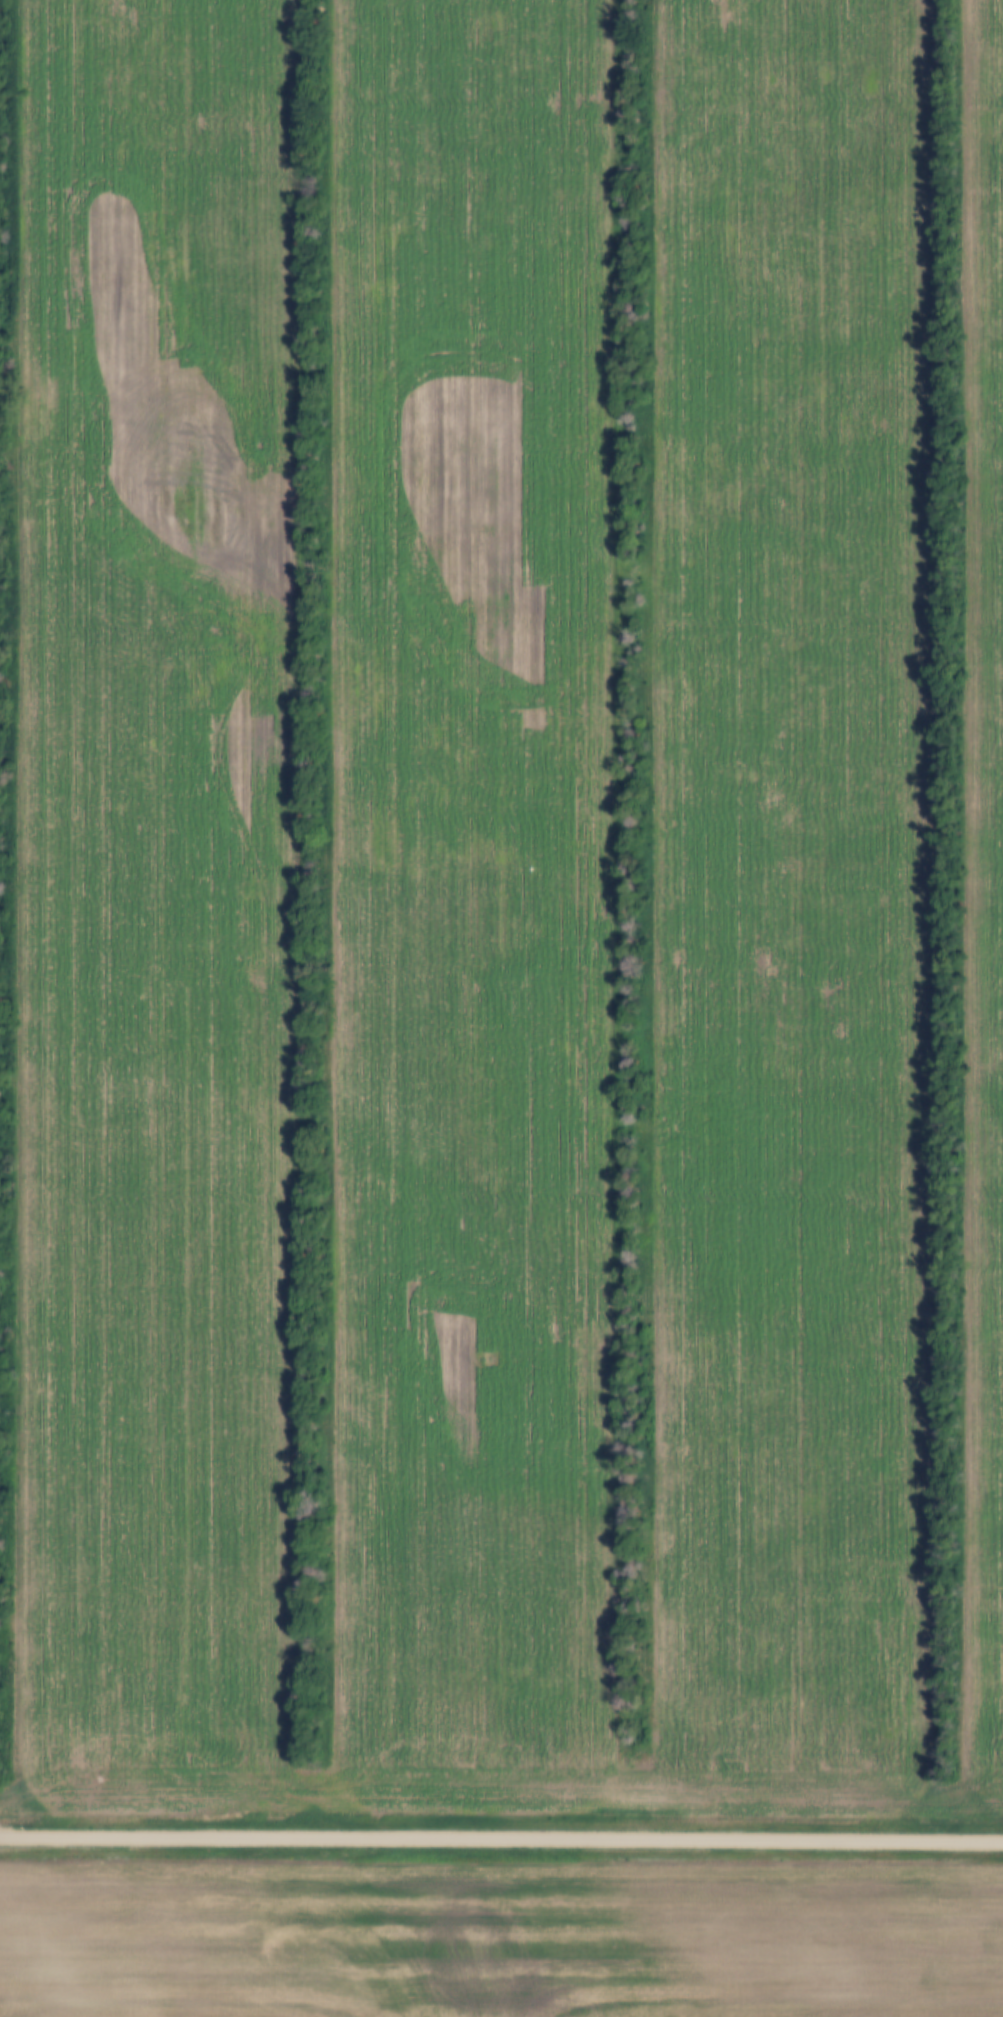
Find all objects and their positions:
road: (501, 1841)

